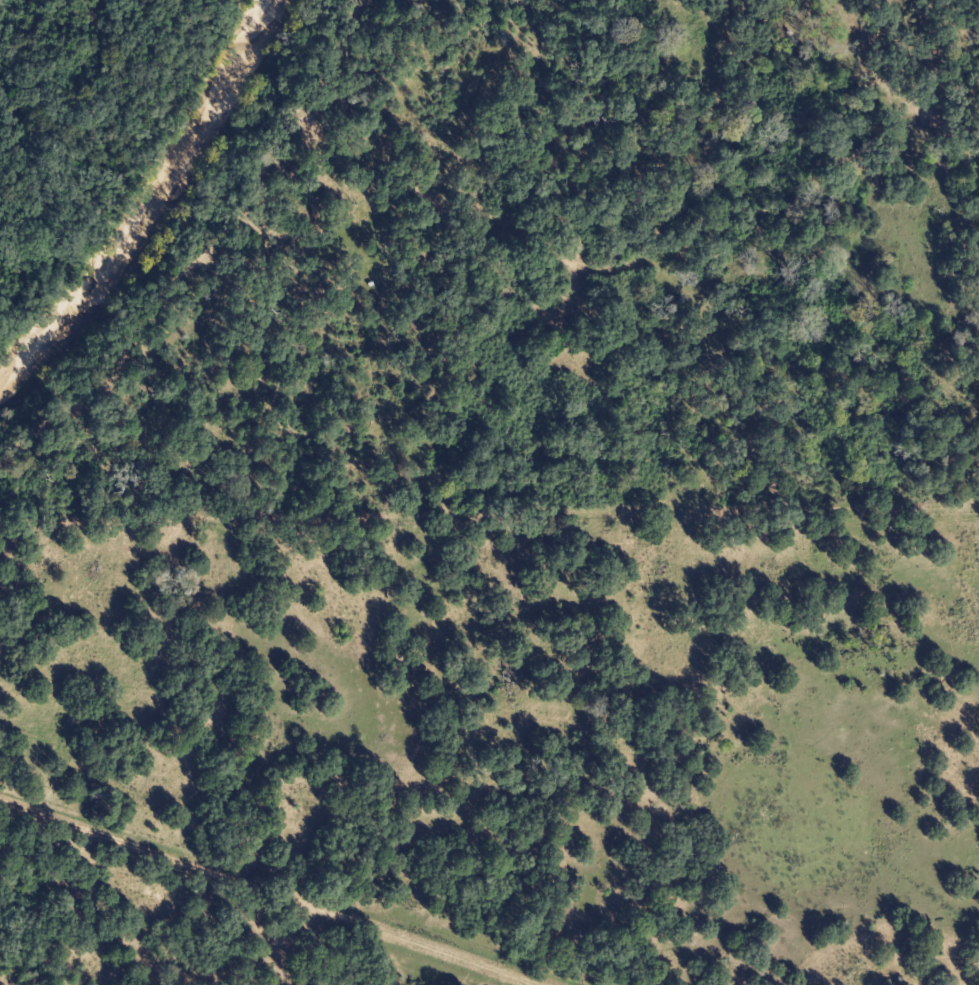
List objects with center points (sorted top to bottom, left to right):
road: (274, 893)

